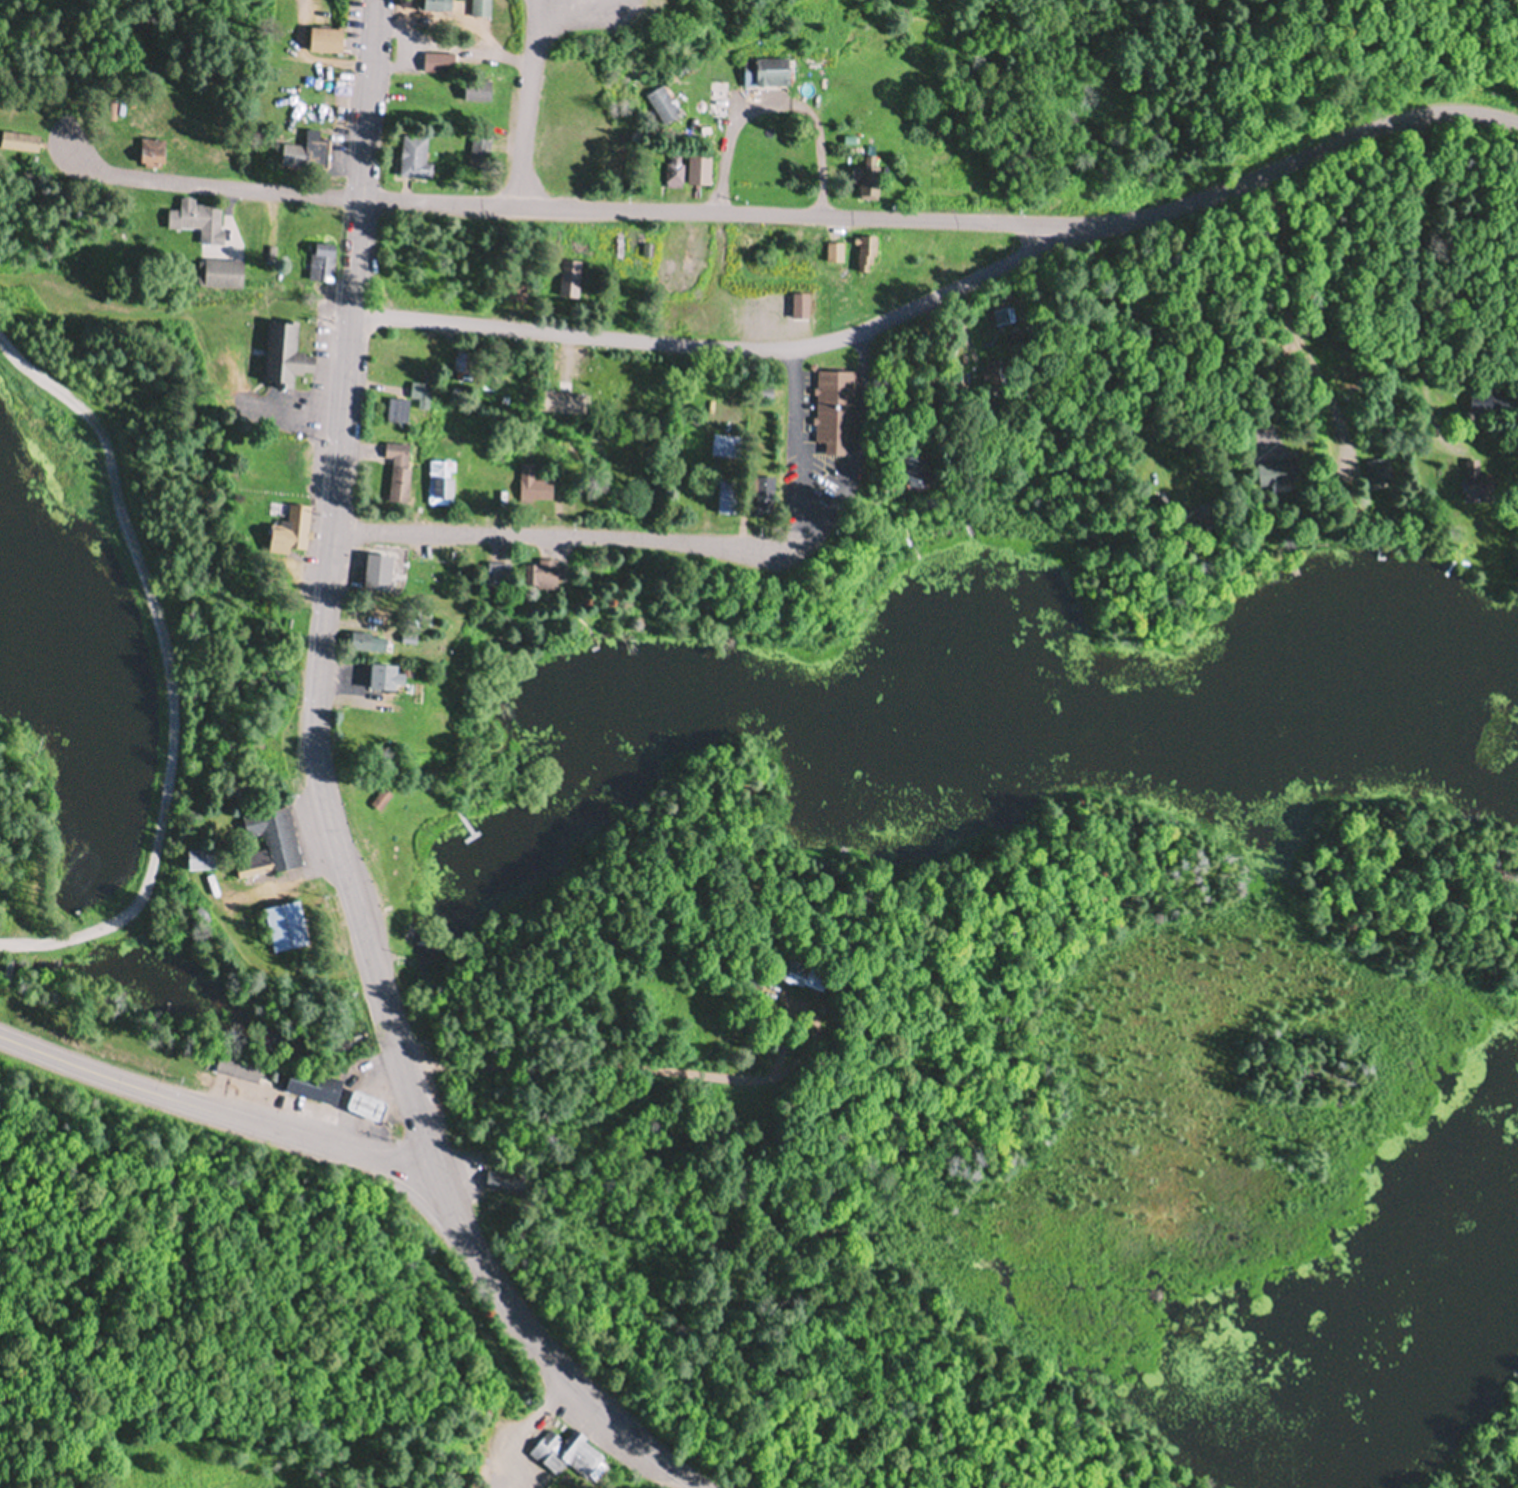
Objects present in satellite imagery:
parking lot: (589, 16)
park: (123, 40)
park: (1023, 87)
road: (528, 103)
road: (206, 187)
road: (950, 219)
road: (1444, 275)
road: (1280, 306)
road: (743, 348)
building: (289, 357)
road: (660, 541)
park: (132, 574)
road: (327, 594)
park: (740, 598)
road: (174, 658)
pier: (465, 823)
pier: (472, 837)
park: (411, 851)
building: (241, 1070)
building: (309, 1086)
road: (217, 1102)
road: (554, 1351)

